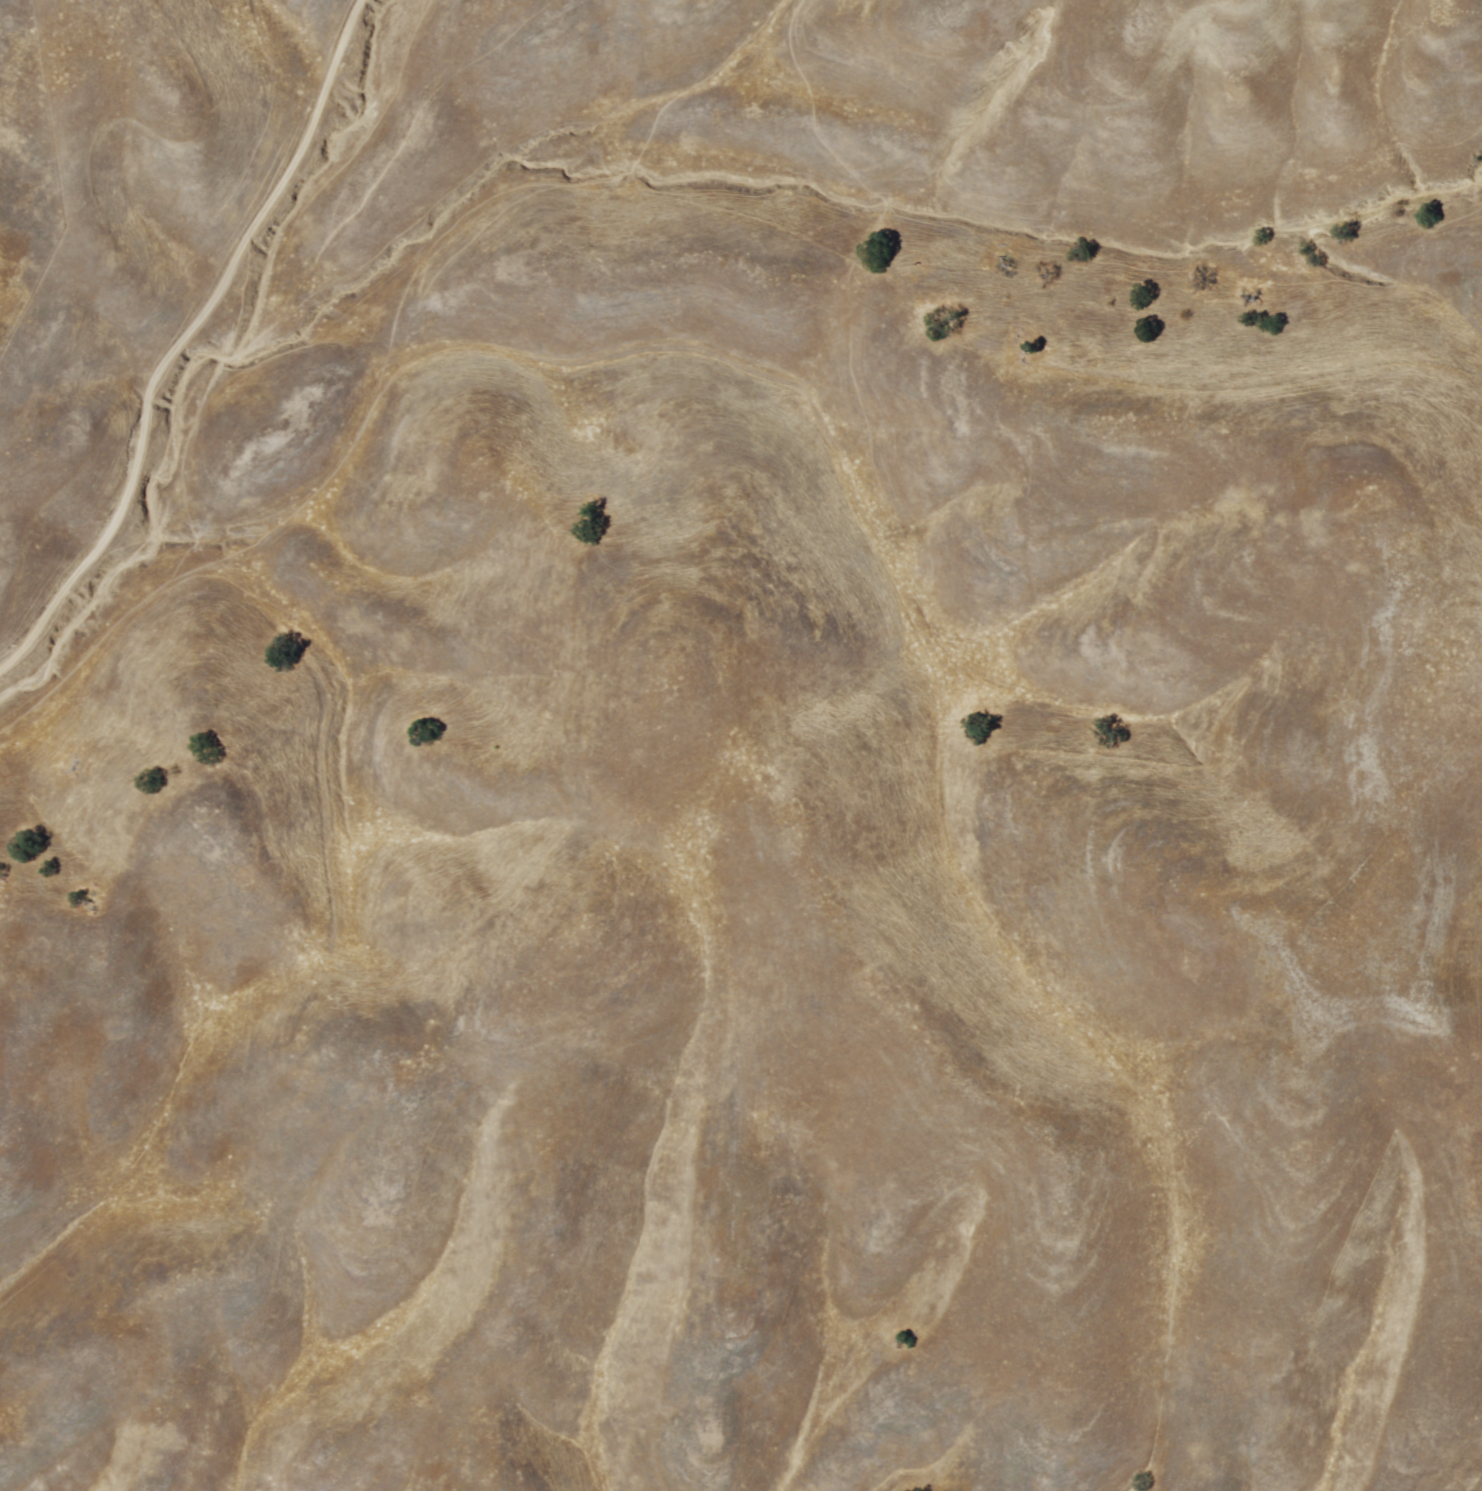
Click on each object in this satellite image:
road: (179, 331)

